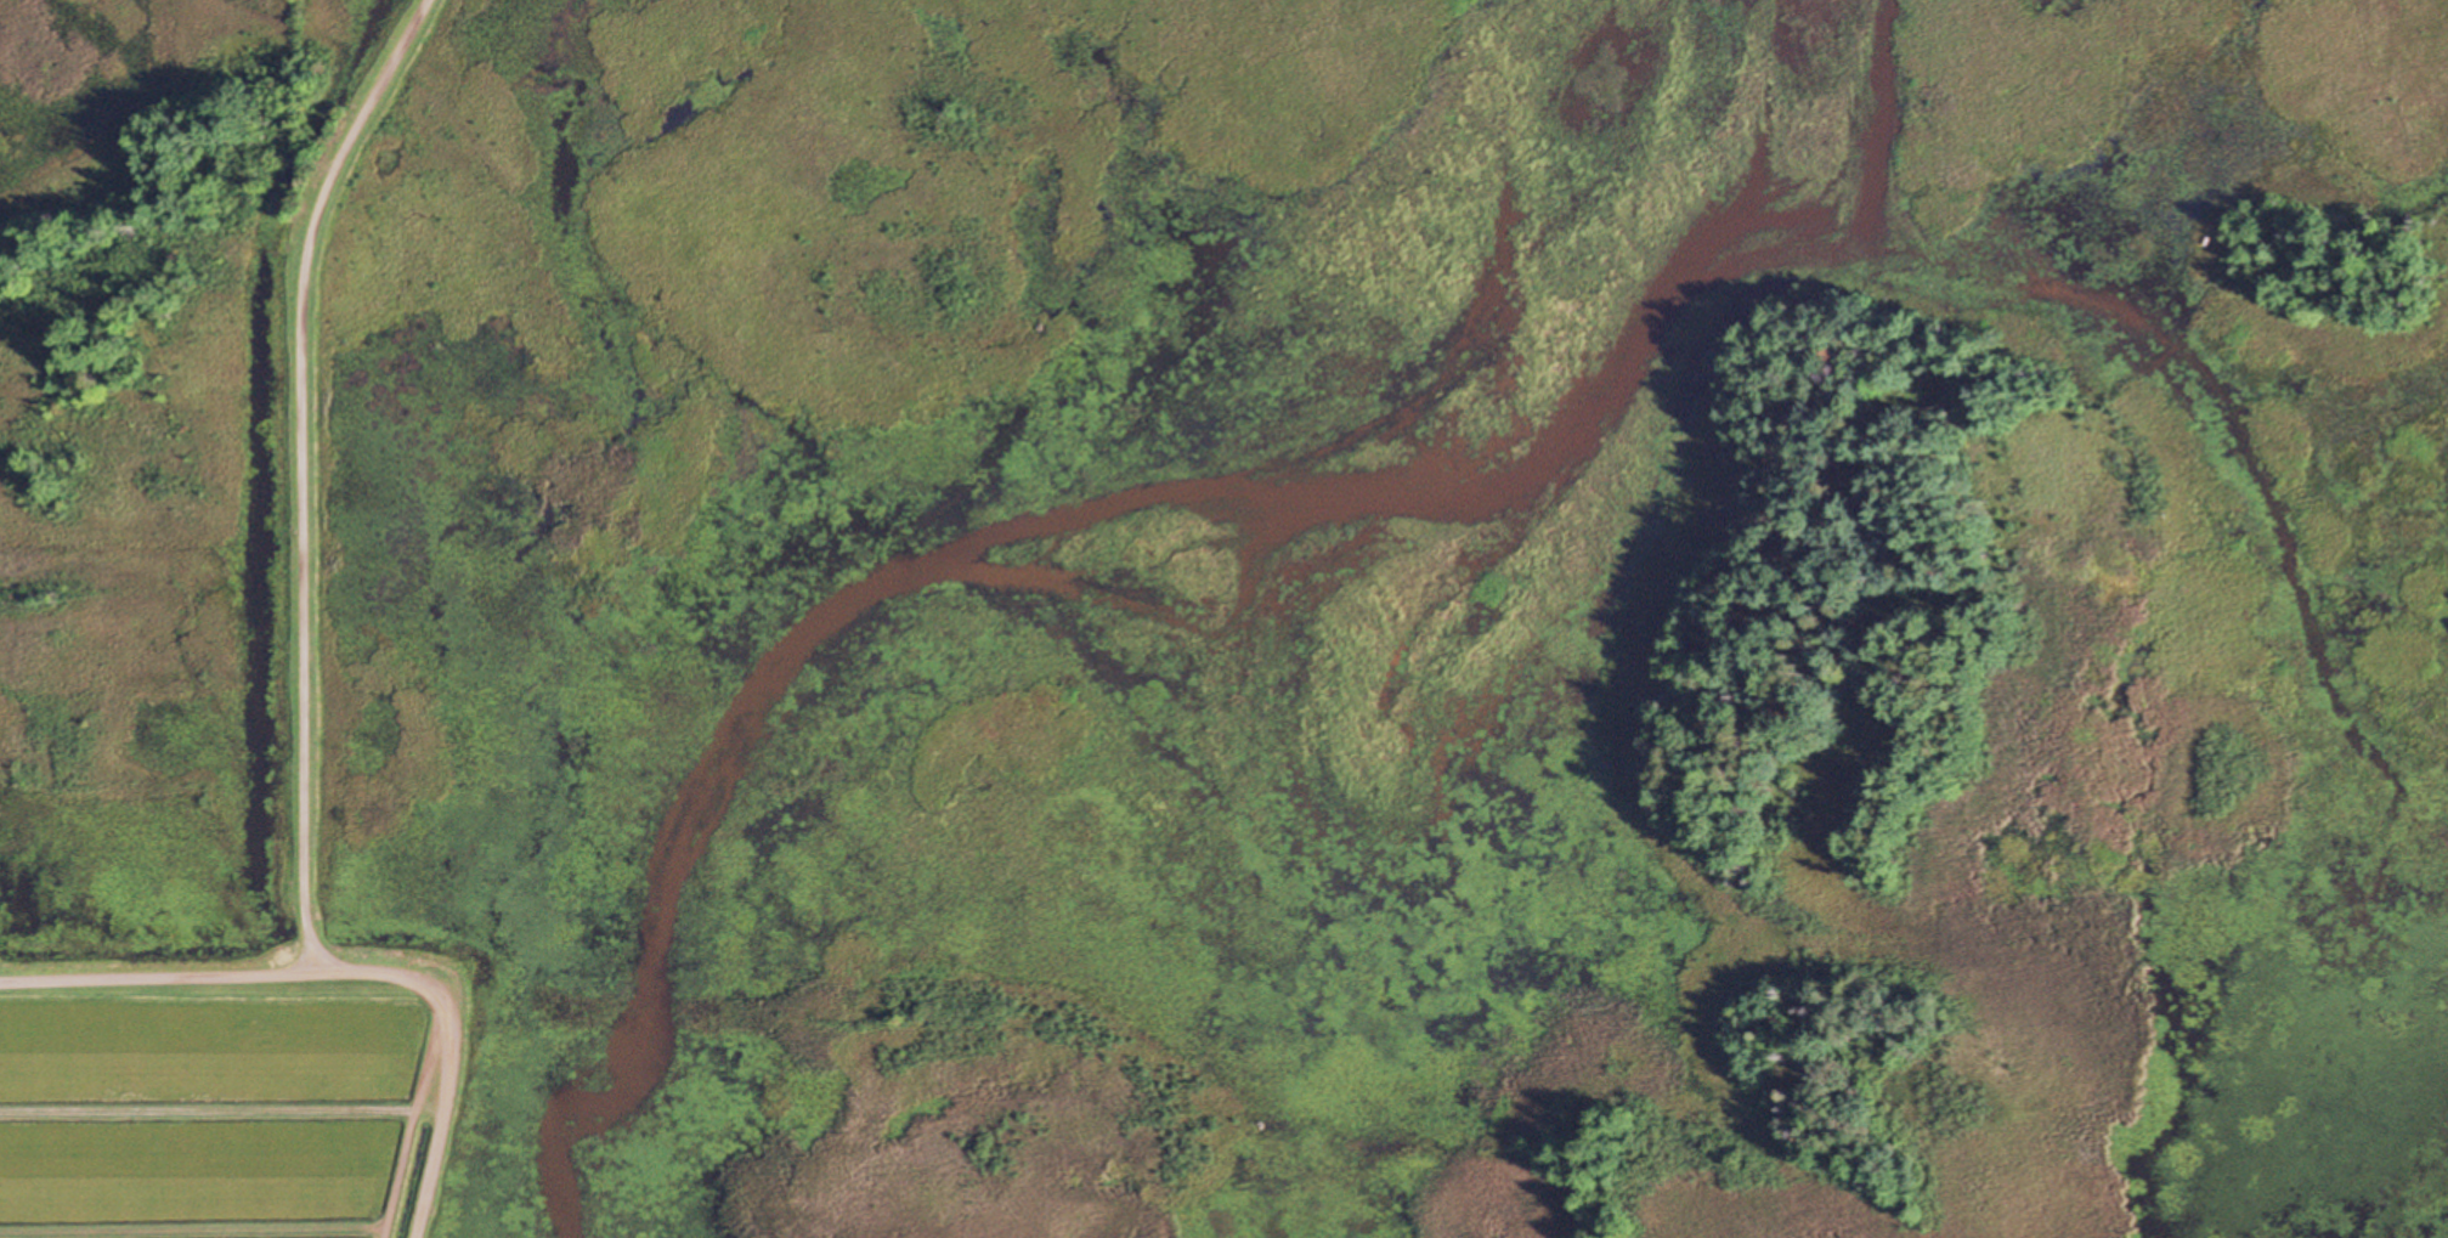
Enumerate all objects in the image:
river: (1124, 656)
crop: (227, 1096)

